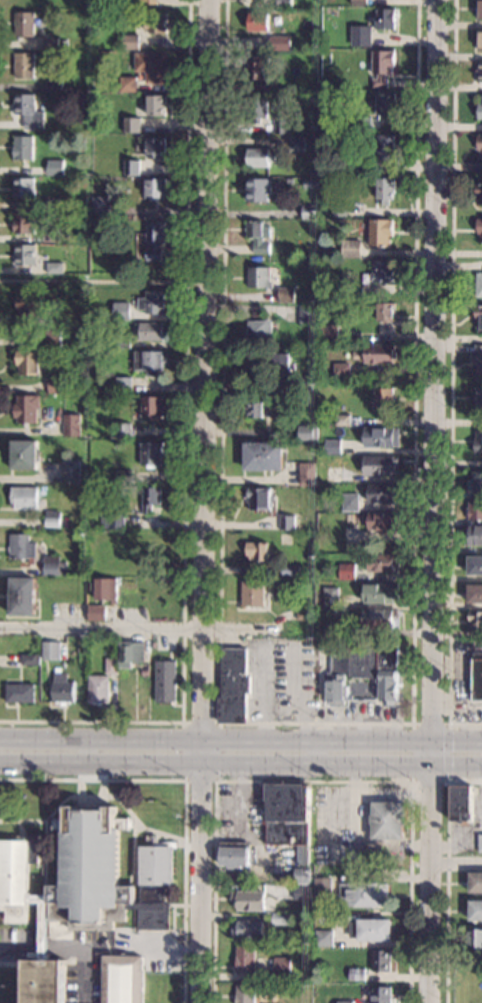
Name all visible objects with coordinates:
building: (147, 2)
building: (359, 2)
building: (55, 4)
building: (284, 4)
building: (480, 9)
building: (386, 17)
building: (258, 21)
building: (155, 23)
building: (23, 24)
building: (361, 36)
building: (480, 40)
building: (130, 41)
building: (279, 42)
building: (49, 43)
building: (23, 65)
building: (151, 66)
building: (257, 66)
building: (382, 66)
building: (479, 71)
building: (127, 84)
building: (52, 86)
building: (114, 87)
building: (314, 99)
building: (387, 104)
building: (156, 105)
building: (256, 108)
building: (27, 111)
building: (480, 111)
building: (363, 123)
building: (131, 125)
building: (281, 125)
building: (480, 143)
building: (296, 144)
building: (155, 147)
building: (386, 147)
building: (21, 148)
building: (258, 158)
building: (359, 165)
building: (54, 167)
building: (131, 167)
building: (313, 171)
building: (289, 180)
building: (311, 183)
building: (22, 188)
building: (155, 188)
building: (386, 189)
building: (257, 190)
building: (479, 190)
building: (49, 204)
building: (99, 207)
building: (341, 210)
building: (309, 211)
building: (22, 223)
building: (479, 228)
building: (381, 232)
building: (258, 235)
building: (49, 237)
building: (155, 240)
building: (84, 247)
building: (351, 248)
building: (23, 254)
building: (304, 257)
building: (53, 268)
building: (383, 272)
building: (259, 277)
road: (93, 281)
building: (479, 284)
building: (354, 291)
building: (286, 295)
building: (152, 302)
building: (29, 307)
building: (121, 311)
building: (385, 311)
building: (307, 314)
building: (478, 317)
building: (151, 331)
building: (258, 331)
building: (330, 333)
building: (52, 337)
building: (121, 342)
building: (381, 353)
building: (478, 360)
building: (27, 361)
building: (150, 361)
building: (282, 361)
building: (293, 366)
building: (343, 369)
road: (452, 378)
building: (70, 383)
building: (304, 383)
building: (55, 385)
building: (124, 385)
building: (479, 397)
building: (58, 398)
building: (385, 398)
building: (152, 408)
building: (259, 408)
building: (25, 409)
building: (343, 420)
building: (71, 425)
building: (123, 430)
building: (308, 432)
building: (381, 437)
building: (478, 441)
building: (333, 444)
building: (151, 453)
road: (185, 453)
building: (23, 455)
building: (264, 457)
building: (381, 465)
building: (70, 472)
building: (308, 474)
building: (334, 475)
building: (125, 476)
building: (475, 482)
building: (384, 494)
building: (23, 498)
building: (151, 498)
building: (260, 498)
road: (204, 501)
road: (432, 501)
building: (350, 502)
building: (475, 509)
building: (51, 519)
building: (383, 520)
building: (113, 521)
building: (287, 522)
building: (473, 535)
building: (149, 544)
building: (258, 551)
building: (34, 555)
building: (383, 562)
building: (475, 565)
building: (119, 567)
building: (293, 570)
building: (348, 572)
building: (105, 589)
building: (253, 592)
building: (381, 593)
building: (474, 593)
building: (21, 596)
building: (328, 597)
building: (96, 613)
building: (305, 614)
building: (381, 618)
building: (476, 620)
road: (138, 629)
building: (333, 629)
building: (50, 651)
building: (130, 653)
building: (29, 660)
building: (111, 666)
building: (363, 669)
building: (144, 672)
building: (477, 676)
building: (165, 681)
building: (233, 686)
building: (62, 689)
building: (98, 689)
building: (19, 693)
road: (214, 723)
road: (314, 723)
road: (241, 741)
road: (414, 753)
road: (449, 753)
road: (240, 762)
road: (313, 783)
road: (80, 788)
road: (103, 788)
road: (72, 796)
road: (185, 799)
building: (461, 804)
building: (287, 813)
building: (389, 820)
building: (257, 822)
road: (167, 835)
building: (479, 843)
road: (133, 852)
building: (234, 855)
building: (303, 856)
road: (45, 858)
road: (455, 862)
building: (302, 875)
road: (447, 876)
building: (476, 882)
building: (323, 887)
building: (81, 890)
building: (303, 892)
building: (364, 894)
building: (249, 900)
building: (309, 904)
building: (476, 910)
building: (281, 919)
building: (248, 929)
building: (371, 929)
building: (475, 937)
building: (324, 938)
road: (20, 948)
road: (43, 949)
road: (75, 950)
road: (167, 952)
building: (245, 958)
building: (382, 961)
building: (282, 968)
building: (357, 974)
building: (123, 979)
park: (460, 986)
building: (245, 994)
building: (382, 995)
building: (345, 1002)

